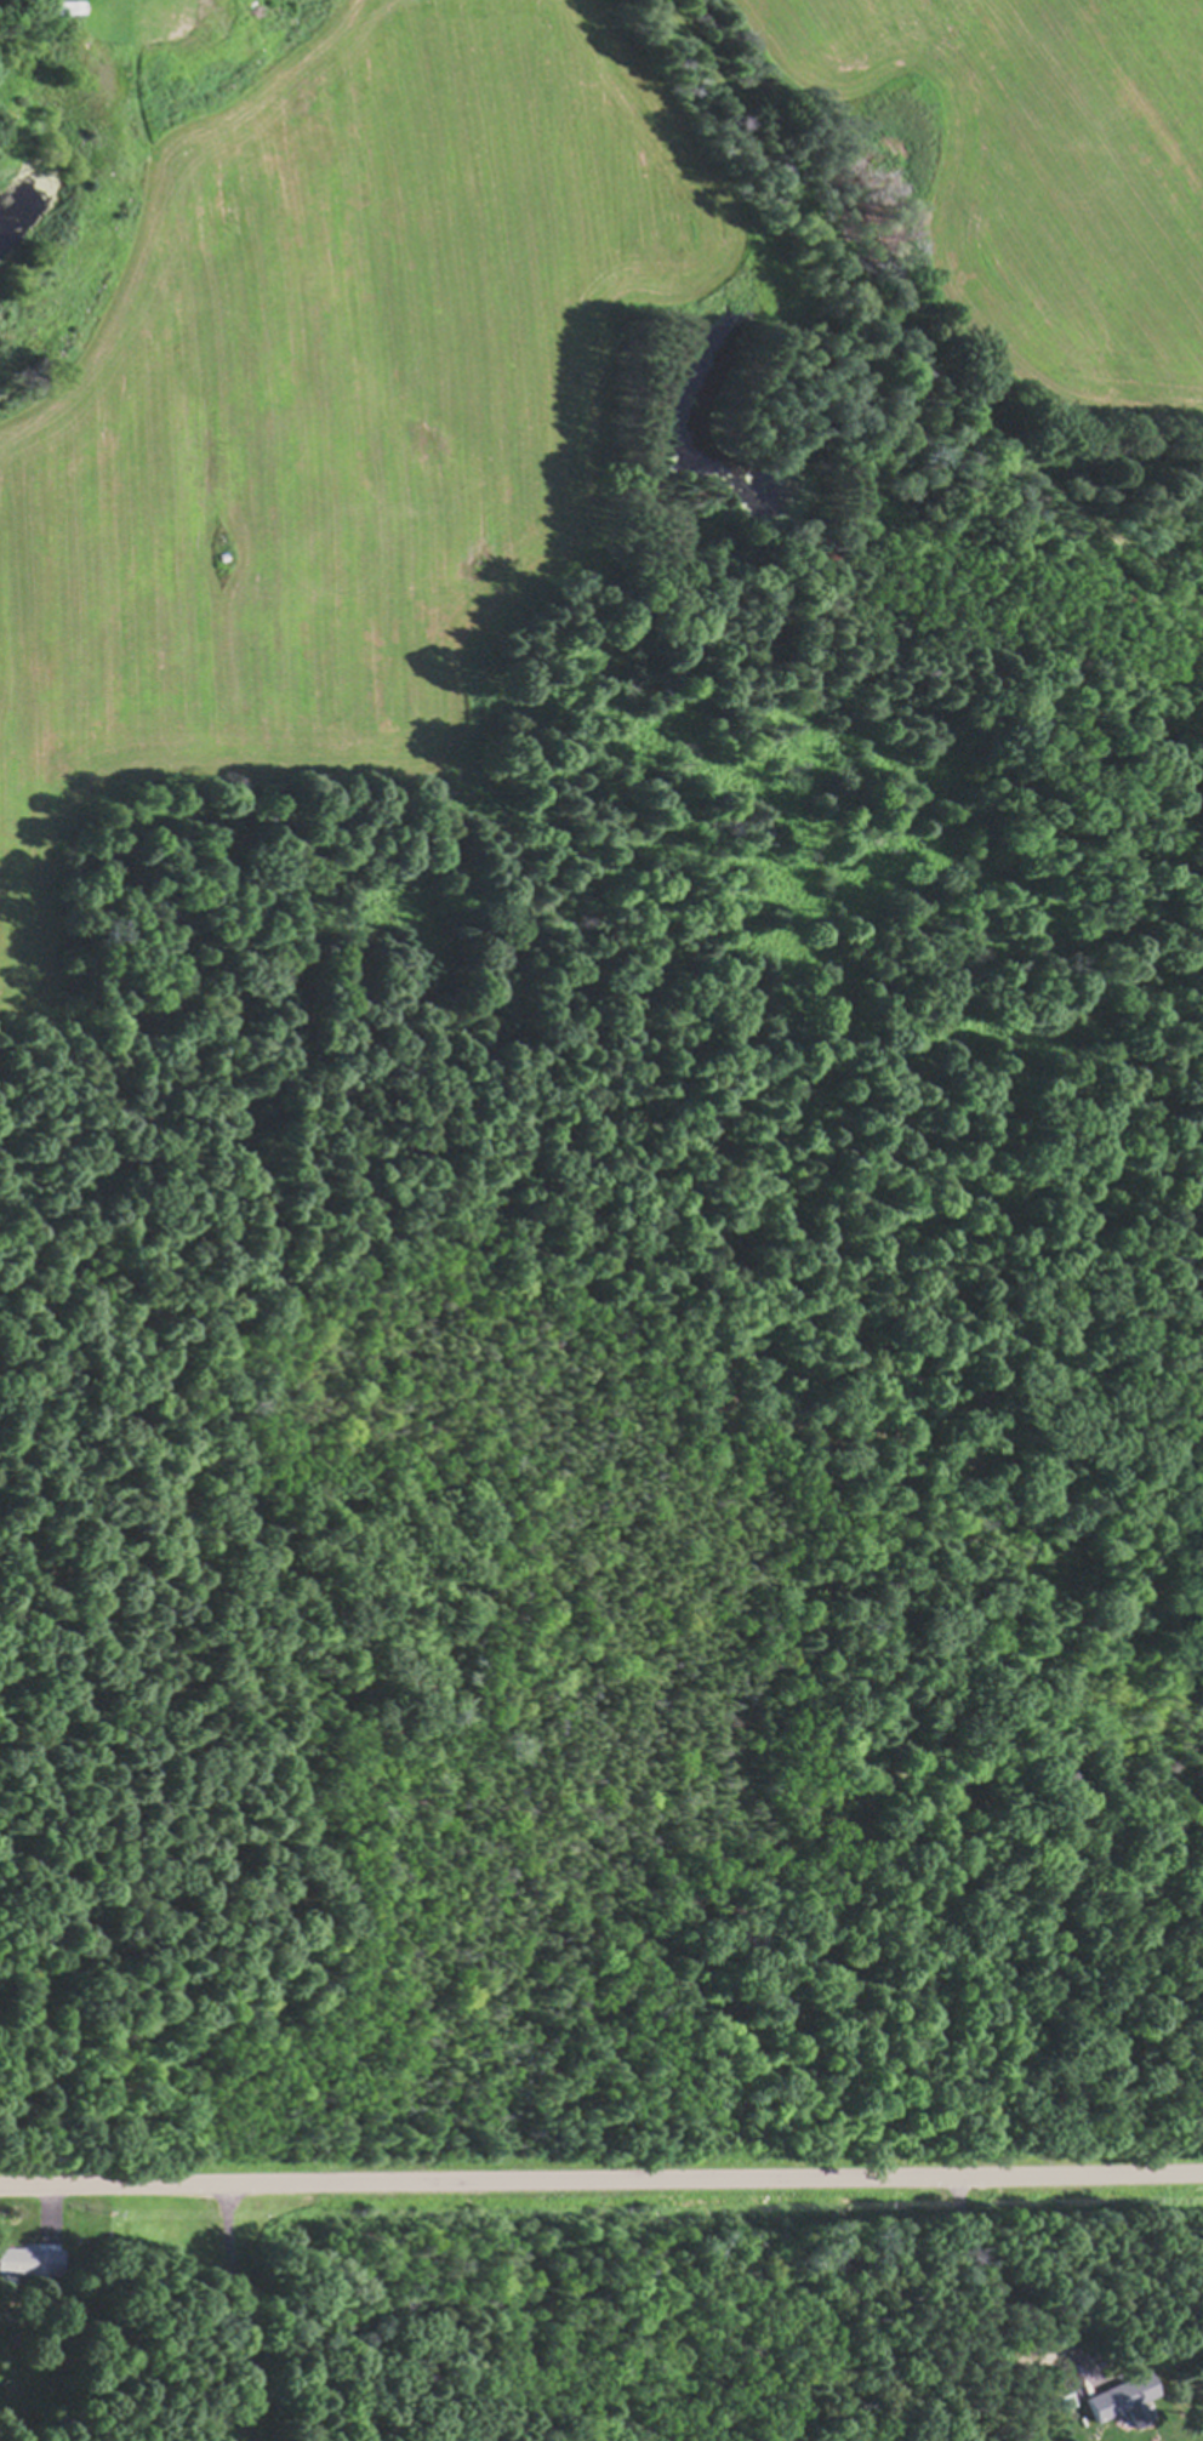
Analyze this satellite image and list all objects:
building: (58, 6)
road: (901, 332)
road: (601, 2177)
road: (53, 2203)
building: (32, 2262)
road: (990, 2281)
road: (244, 2309)
building: (1118, 2397)
building: (1057, 2402)

